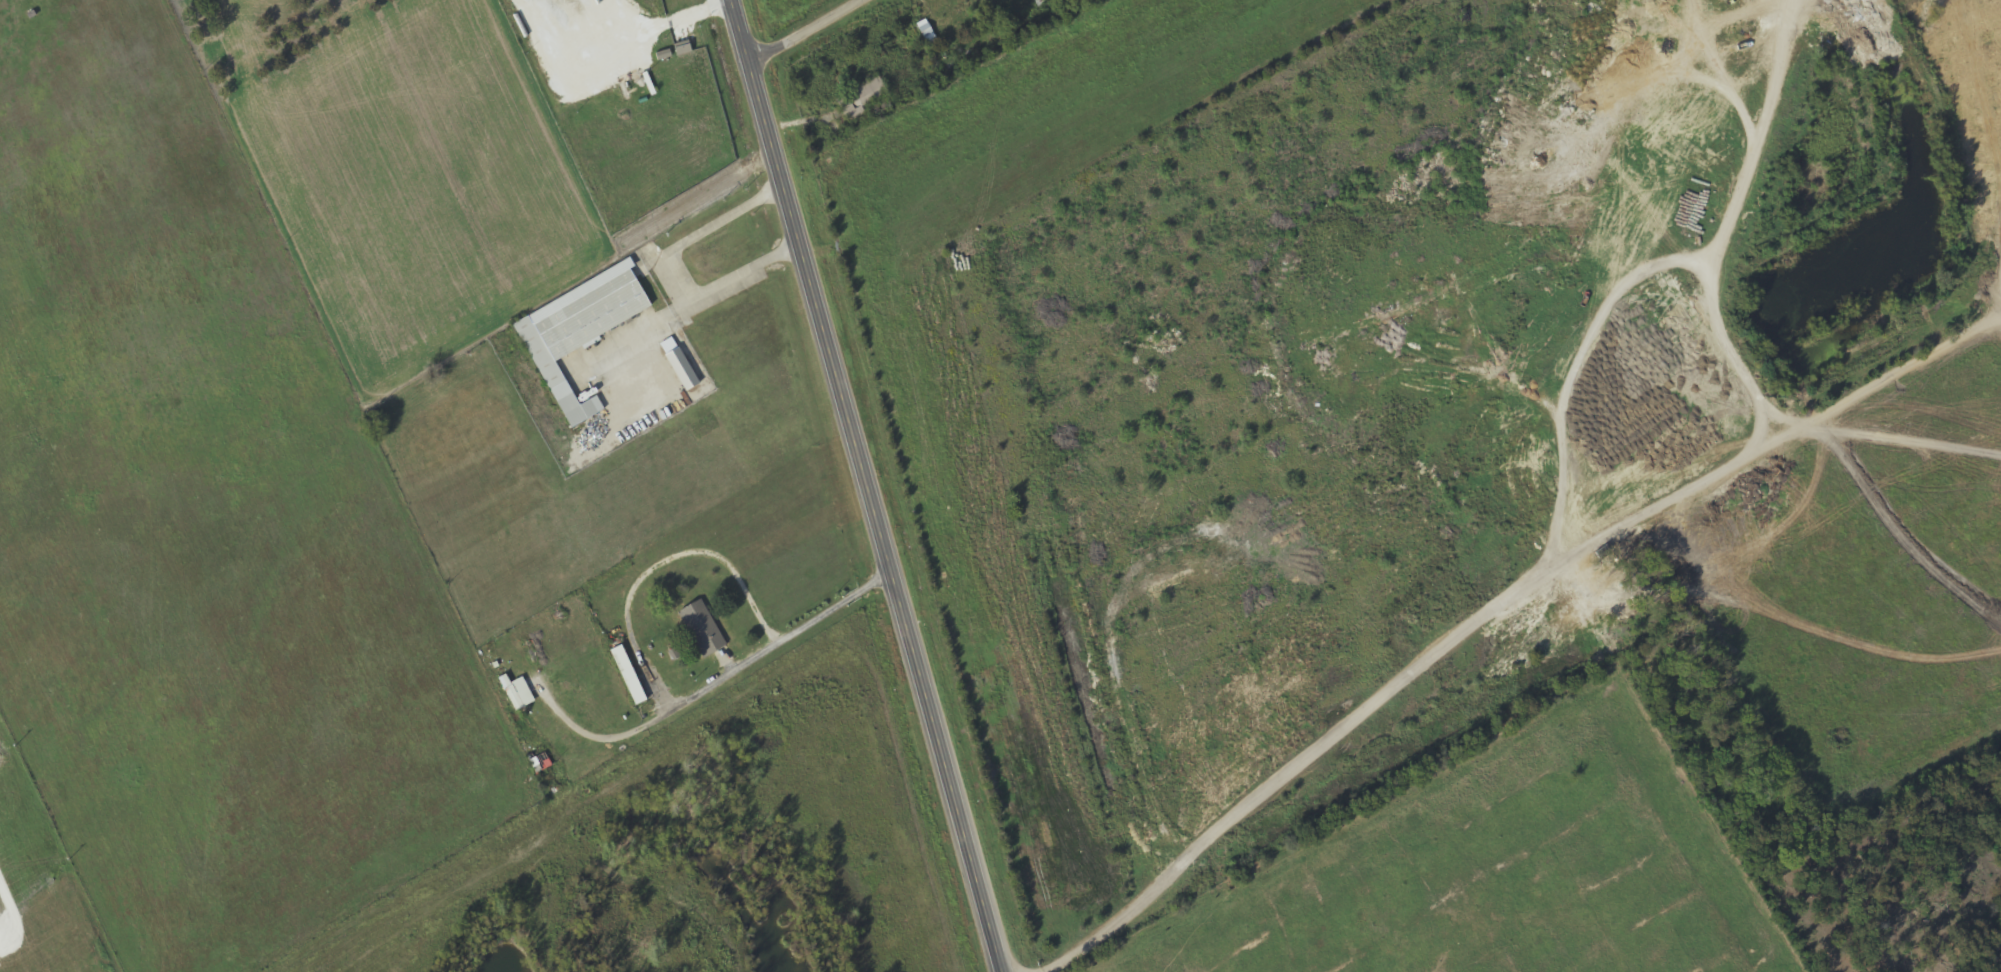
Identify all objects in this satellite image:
building: (1978, 21)
road: (806, 32)
building: (863, 99)
building: (582, 331)
building: (685, 370)
road: (866, 486)
building: (704, 629)

